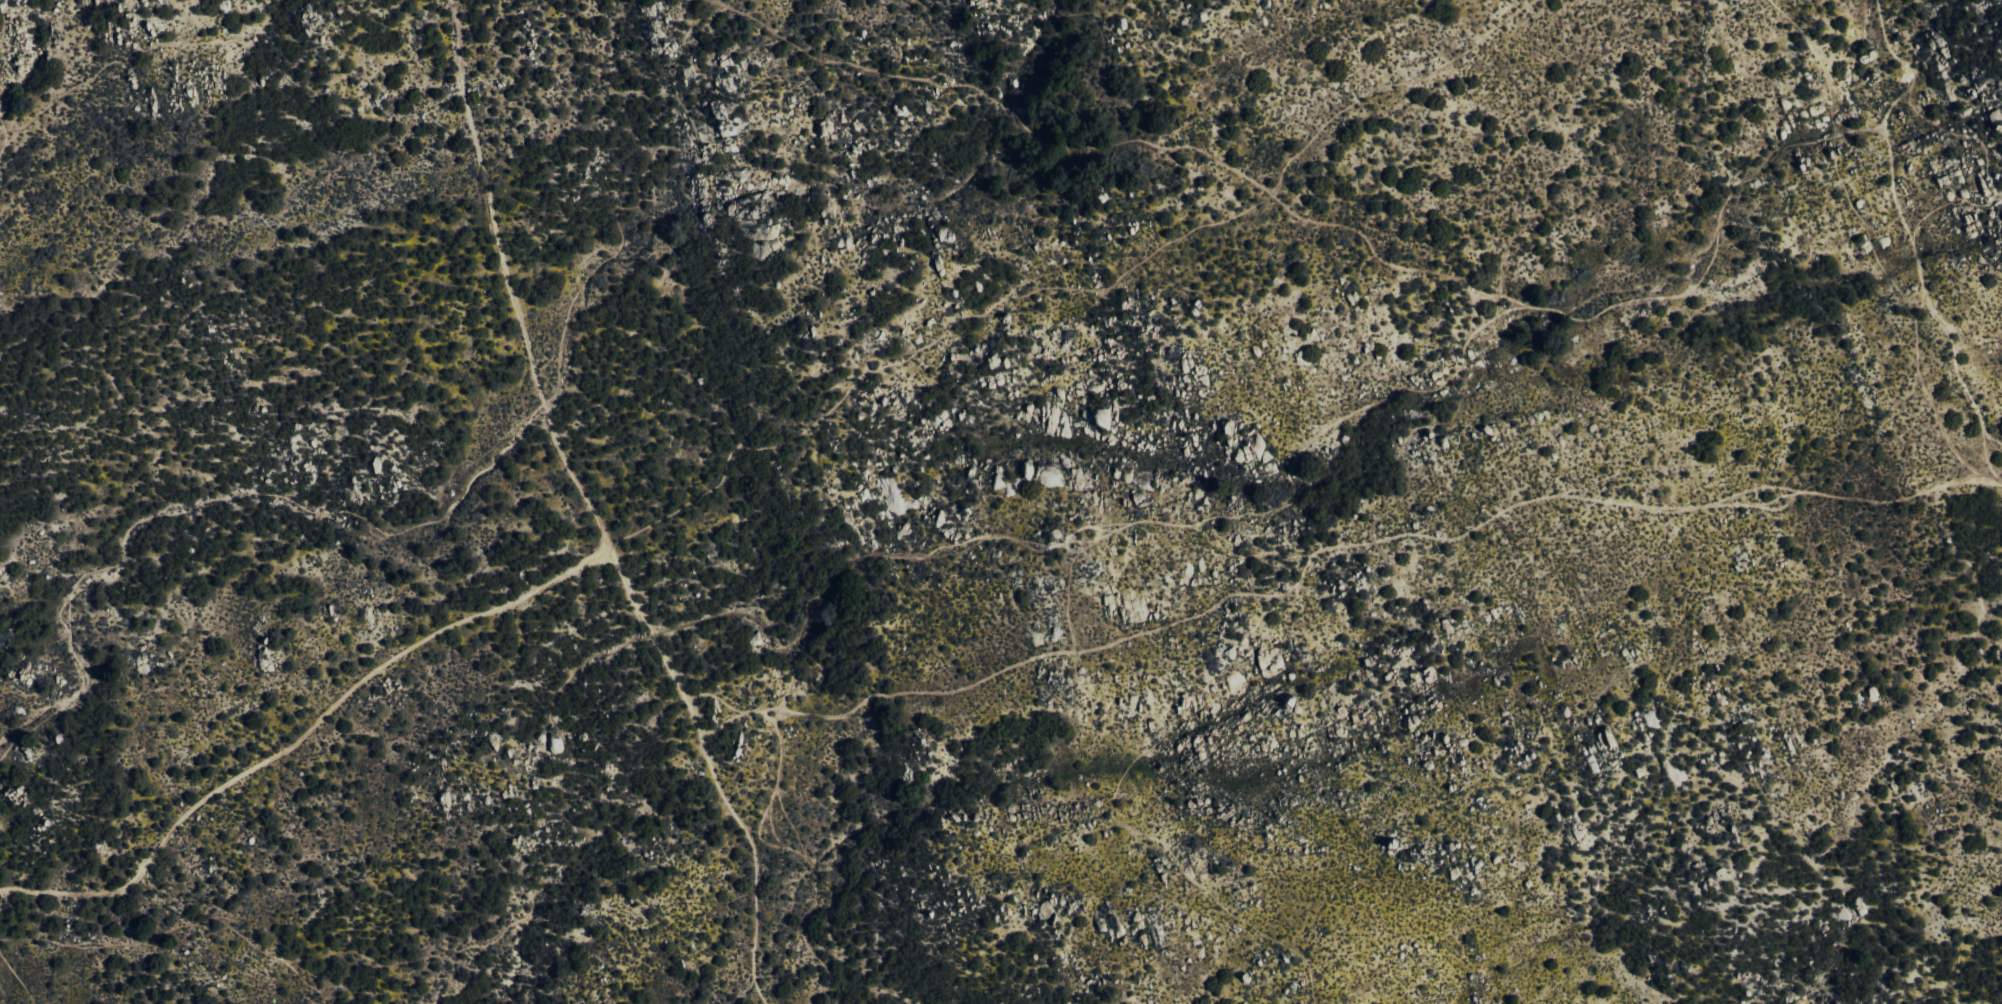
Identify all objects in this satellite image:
road: (1909, 239)

